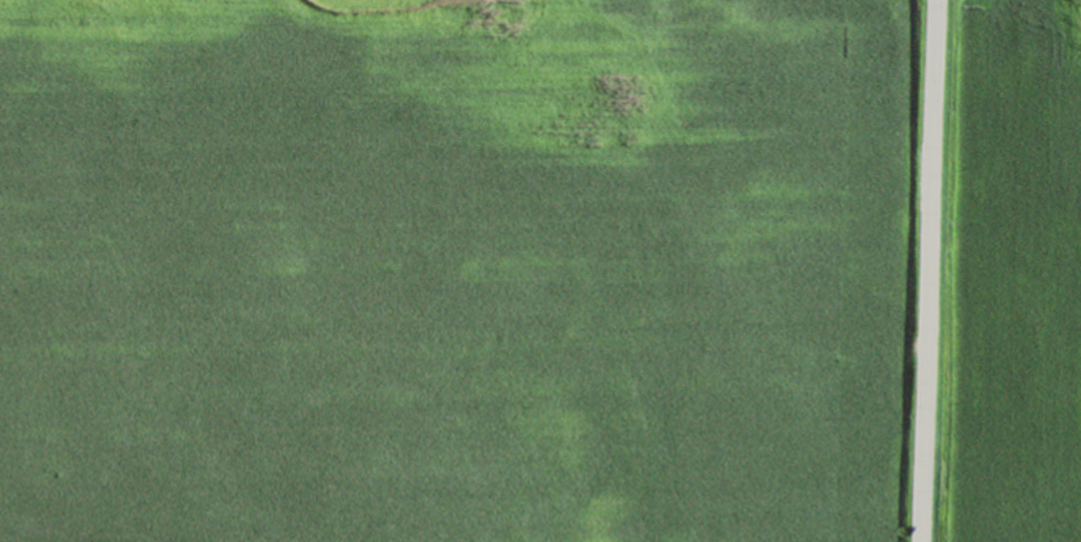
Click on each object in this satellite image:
road: (929, 271)

